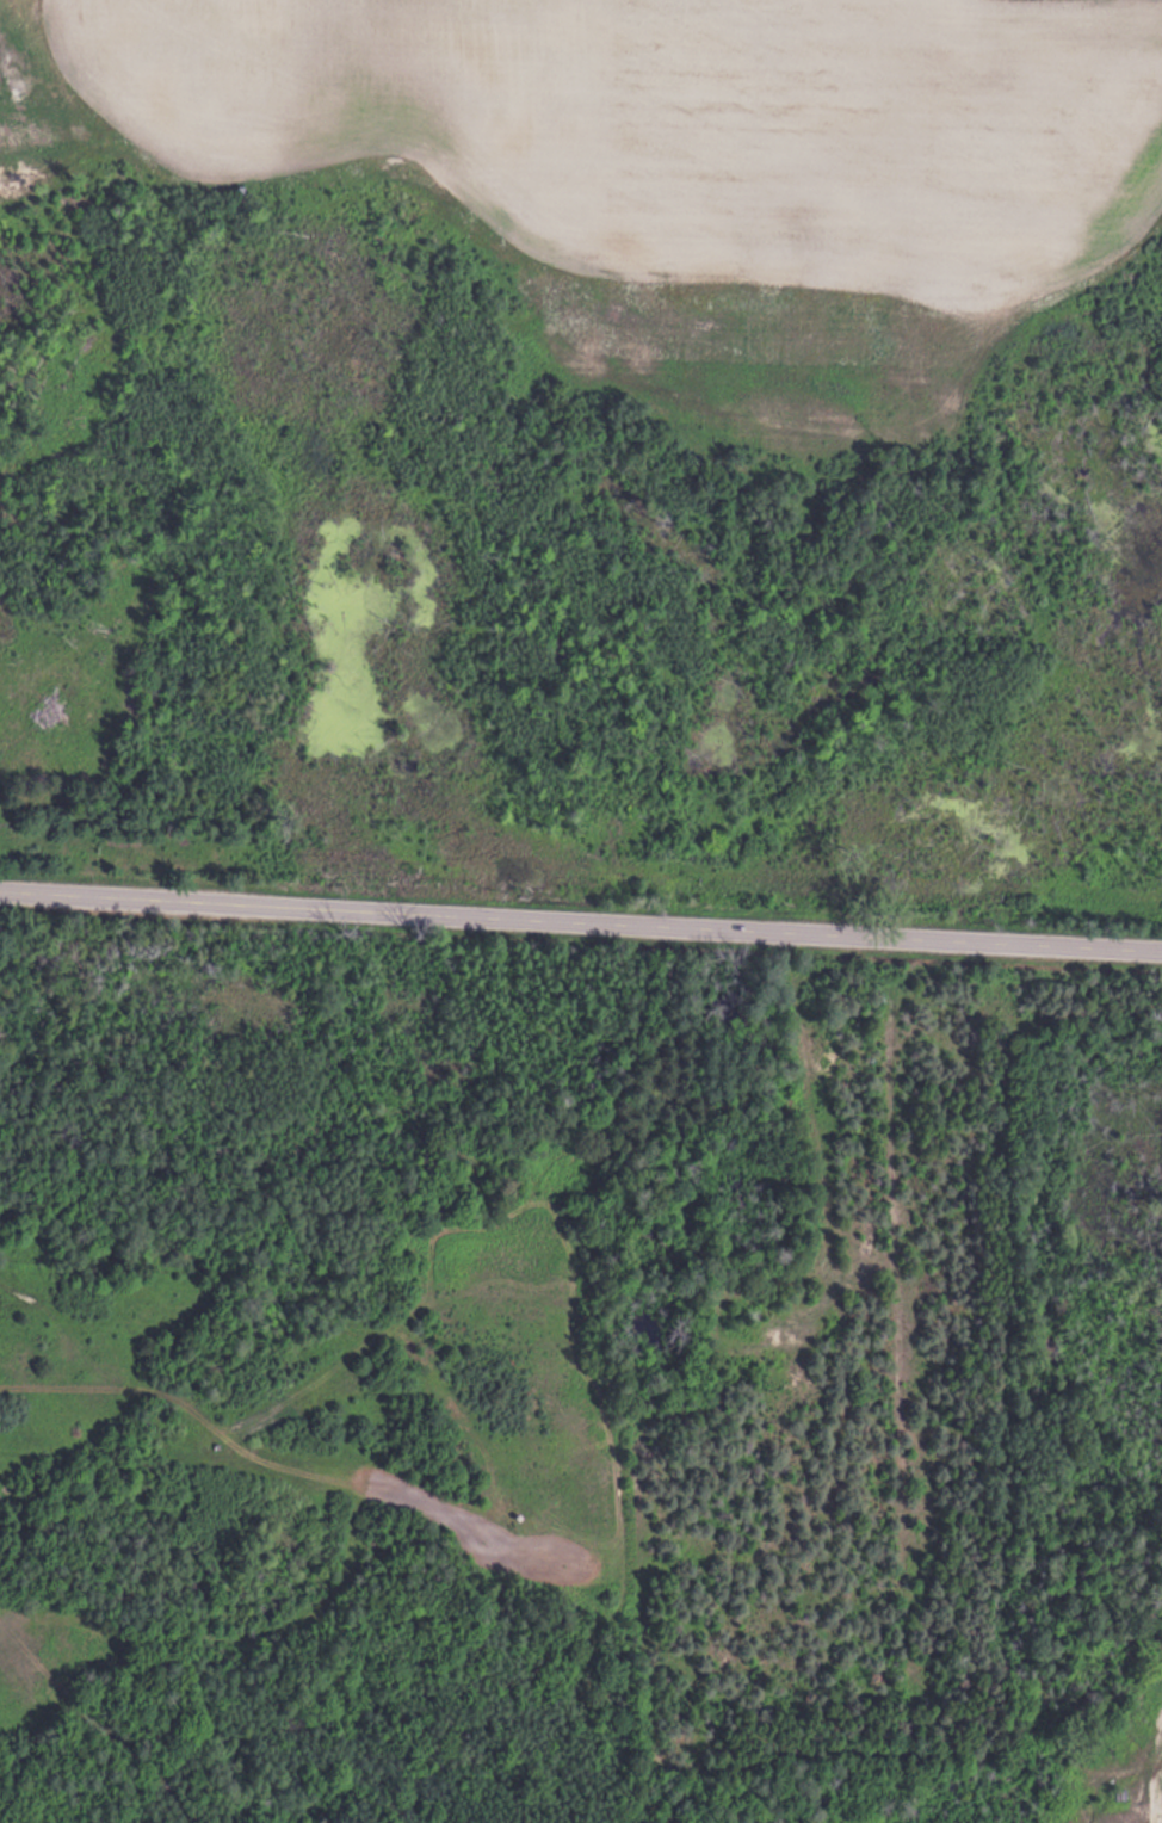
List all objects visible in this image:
road: (581, 919)
building: (1112, 1800)

